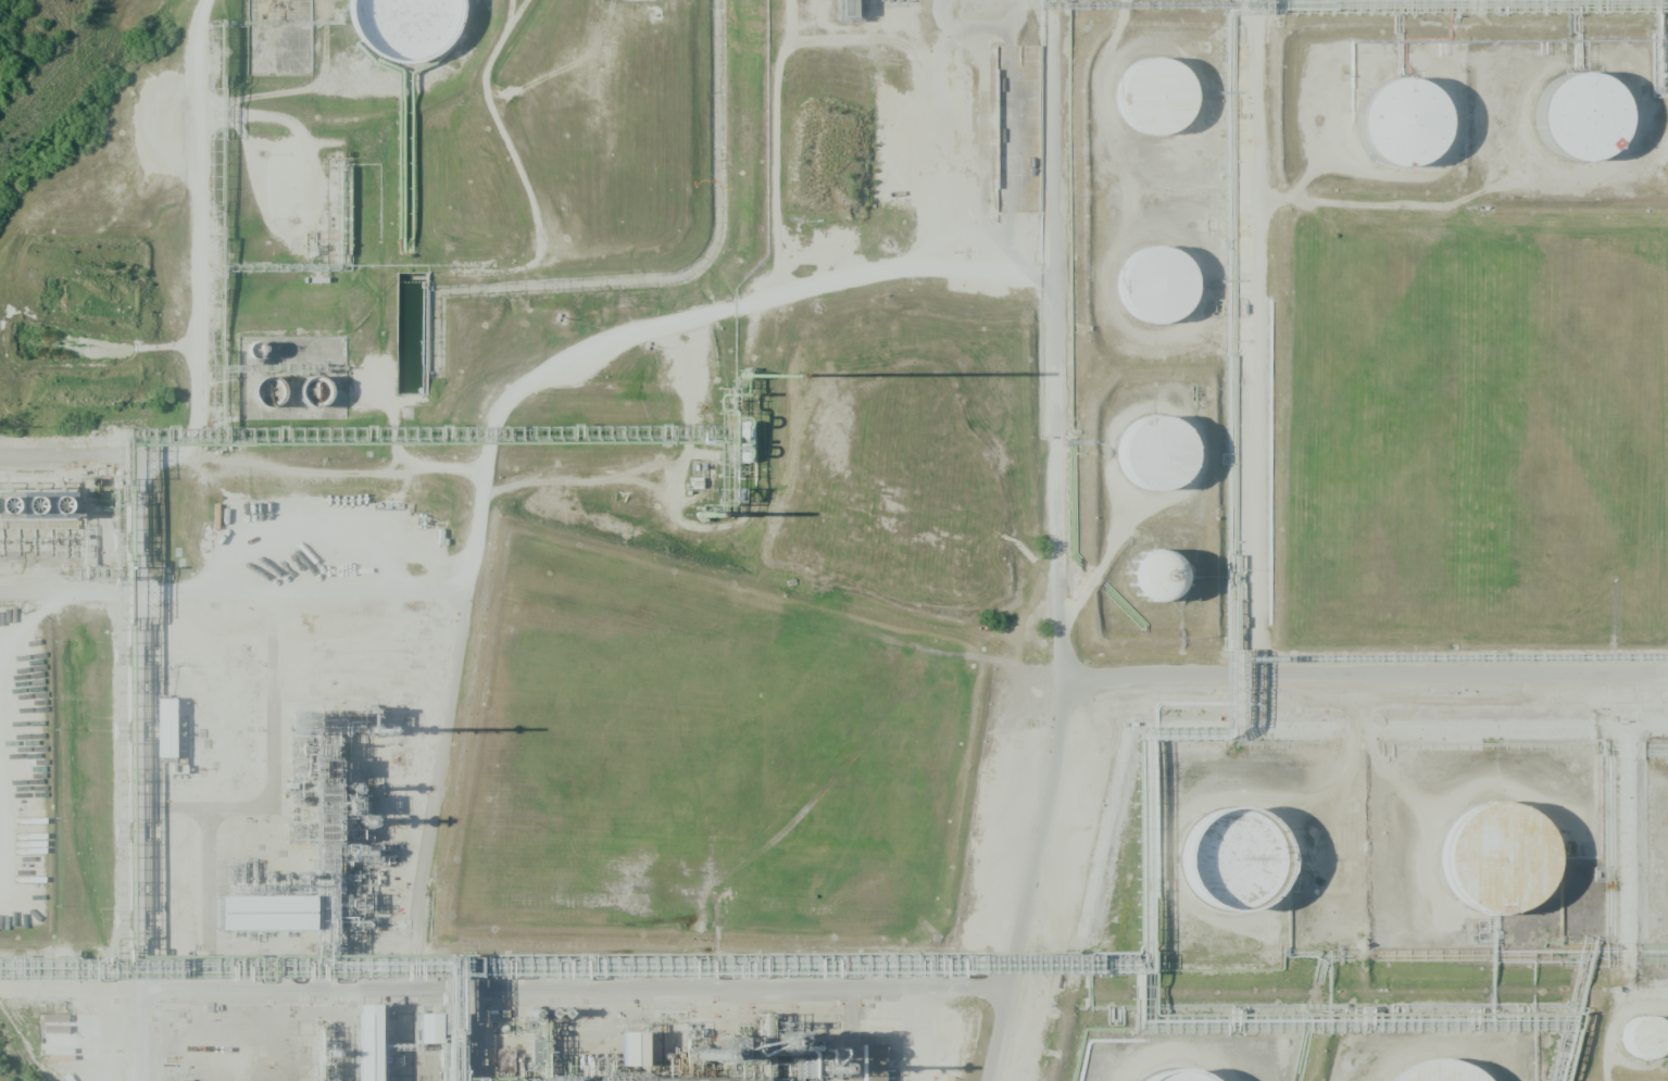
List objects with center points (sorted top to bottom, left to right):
road: (513, 14)
building: (414, 28)
storage tank: (414, 28)
building: (1166, 109)
storage tank: (1166, 109)
building: (1595, 126)
storage tank: (1595, 126)
building: (1415, 133)
storage tank: (1415, 133)
road: (513, 152)
road: (198, 225)
building: (1164, 294)
storage tank: (1164, 294)
road: (1253, 336)
road: (573, 365)
building: (314, 390)
building: (274, 392)
building: (1166, 465)
storage tank: (1166, 465)
building: (15, 506)
road: (1051, 543)
building: (1154, 577)
road: (359, 587)
road: (1358, 670)
road: (136, 701)
building: (165, 728)
building: (1509, 869)
storage tank: (1509, 869)
building: (1249, 870)
storage tank: (1249, 870)
building: (284, 926)
road: (139, 1016)
building: (427, 1028)
building: (442, 1039)
building: (366, 1042)
building: (1654, 1045)
storage tank: (1654, 1045)
building: (382, 1048)
building: (631, 1048)
building: (871, 1063)
building: (1170, 1077)
building: (1451, 1077)
storage tank: (1451, 1077)

